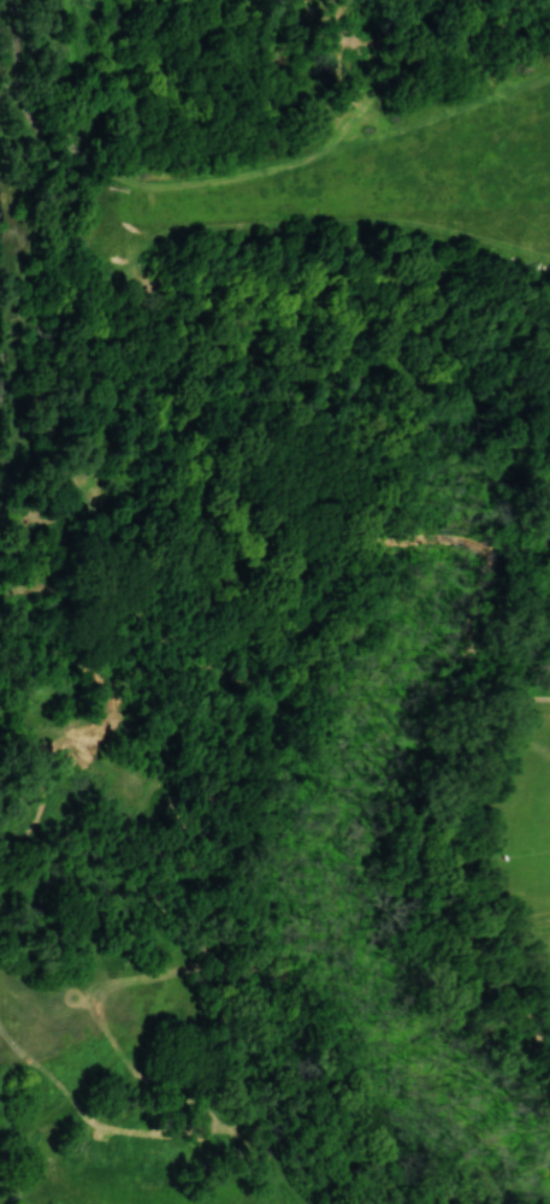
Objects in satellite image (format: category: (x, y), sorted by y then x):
park: (276, 348)

